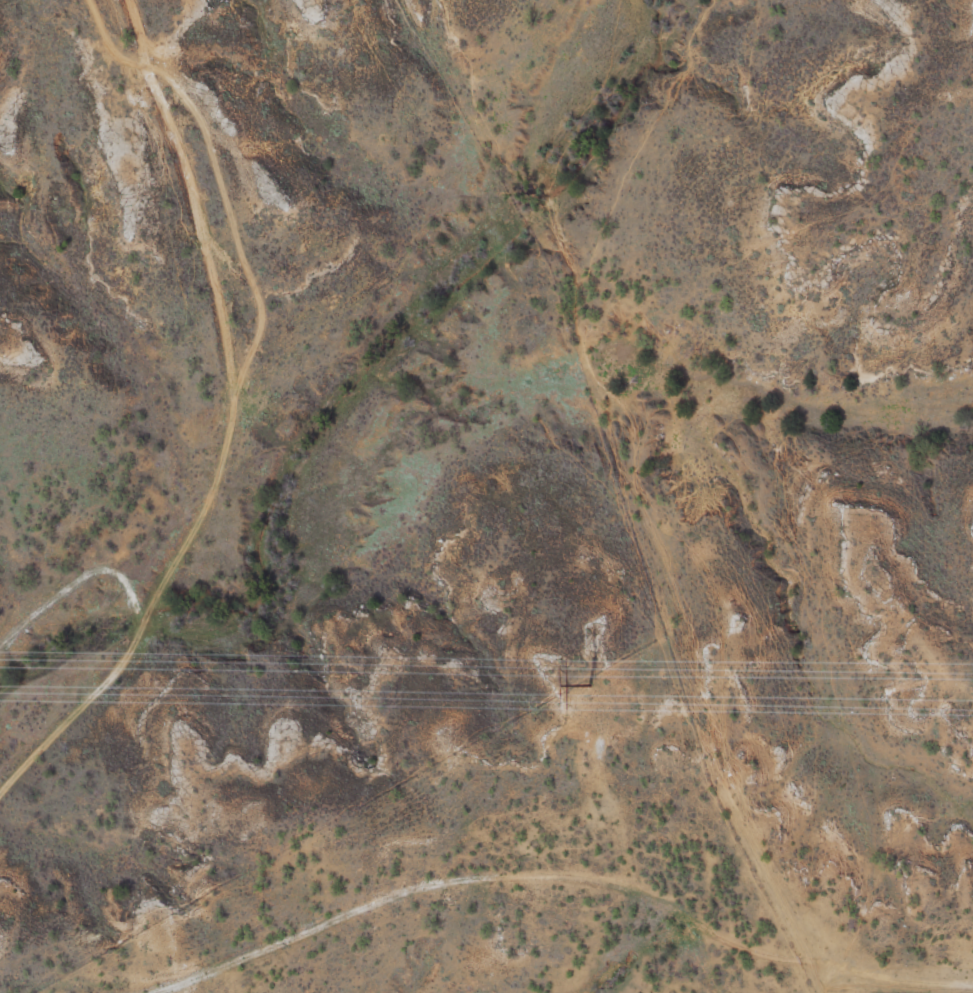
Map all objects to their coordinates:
road: (229, 419)
power tower: (587, 684)
road: (69, 726)
road: (378, 912)

